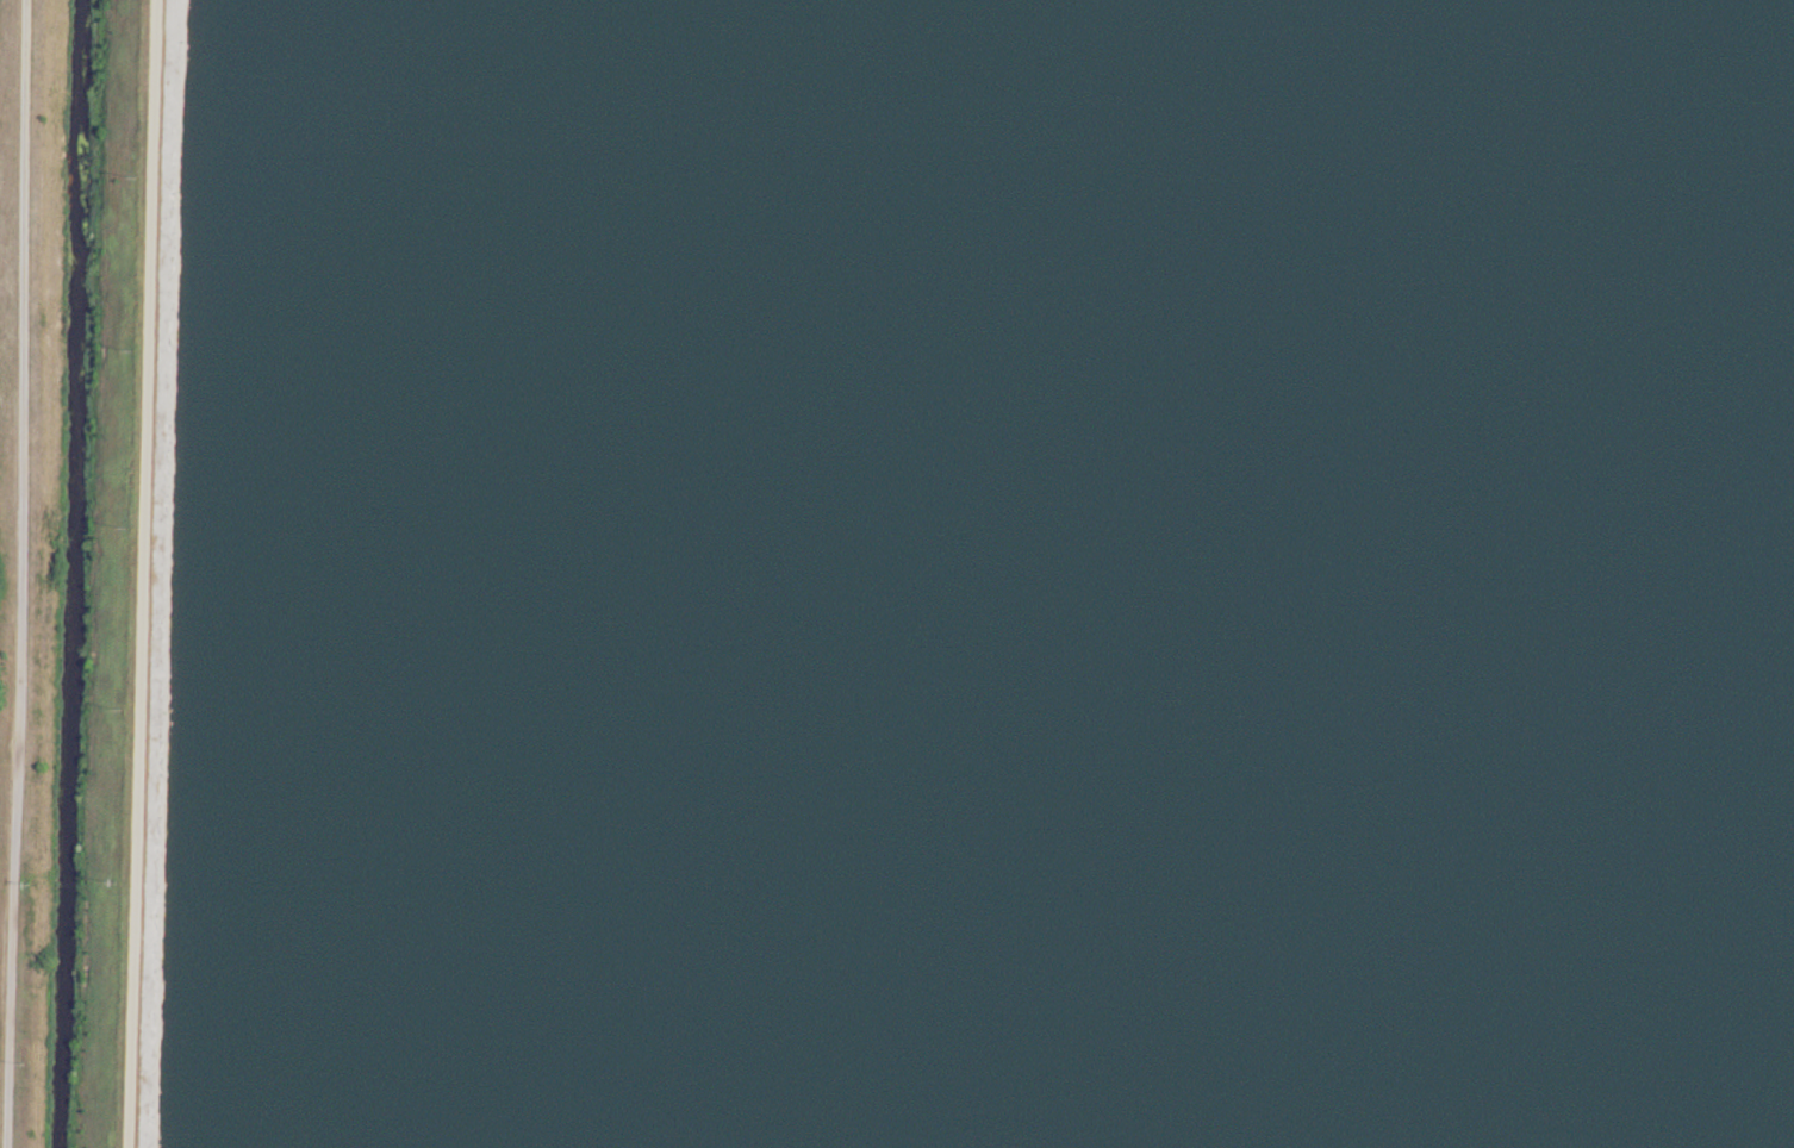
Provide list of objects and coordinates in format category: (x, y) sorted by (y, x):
road: (27, 574)
road: (148, 574)
wastewater plant: (897, 574)

